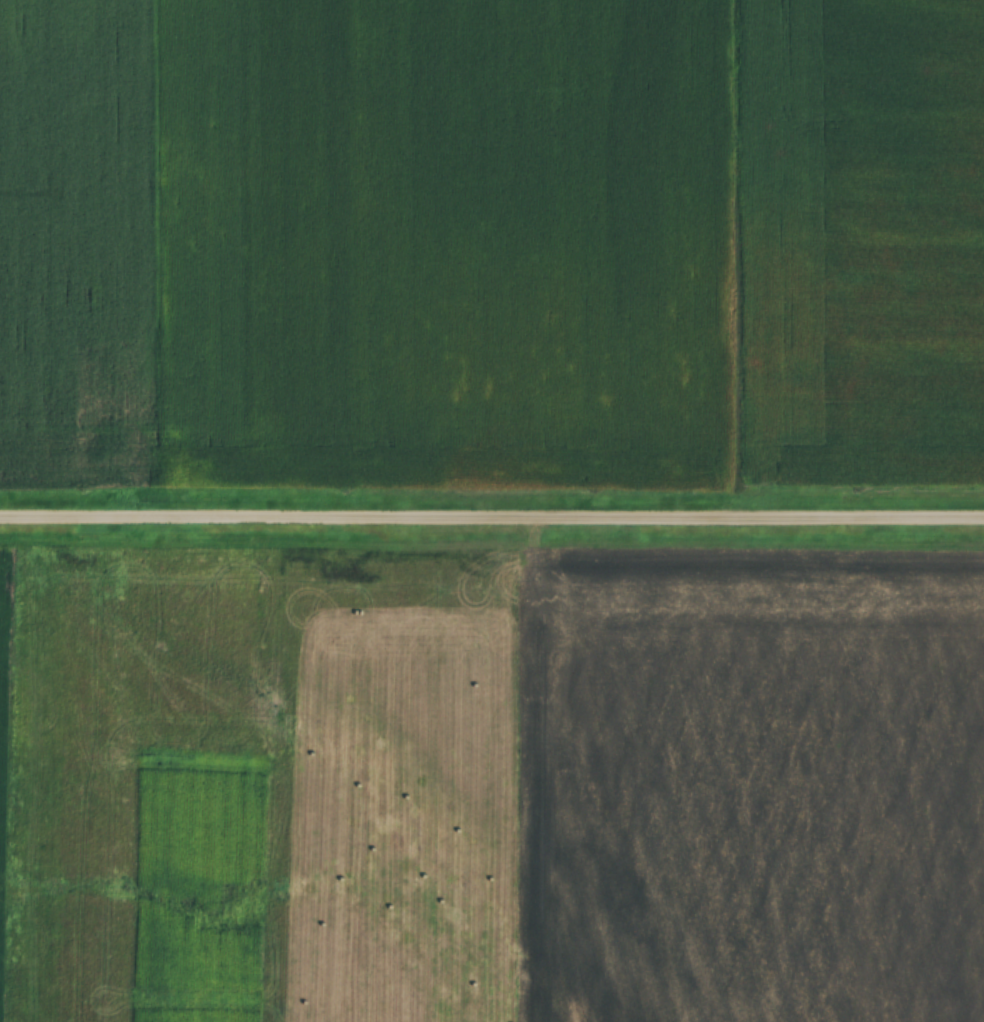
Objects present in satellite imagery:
road: (492, 518)

